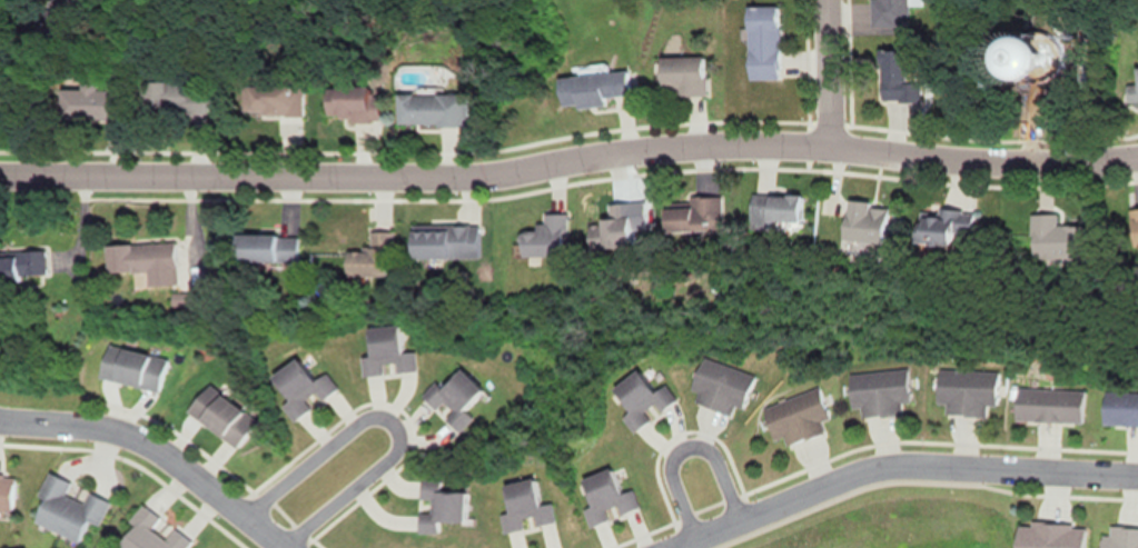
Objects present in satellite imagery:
building: (65, 12)
building: (888, 13)
building: (761, 42)
building: (1012, 56)
water tower: (1039, 64)
road: (829, 73)
building: (679, 76)
building: (893, 78)
building: (1136, 78)
building: (590, 88)
building: (177, 97)
building: (273, 99)
building: (88, 101)
building: (352, 107)
building: (431, 108)
road: (568, 159)
building: (772, 209)
building: (692, 215)
building: (863, 222)
building: (1134, 225)
building: (616, 226)
building: (938, 226)
building: (544, 237)
building: (1056, 238)
building: (443, 242)
building: (264, 249)
building: (369, 256)
building: (142, 260)
building: (21, 263)
building: (385, 350)
building: (132, 367)
building: (299, 387)
building: (719, 387)
building: (964, 390)
building: (877, 391)
building: (454, 398)
building: (640, 398)
building: (1048, 405)
building: (1119, 408)
building: (220, 415)
building: (794, 417)
road: (389, 418)
road: (683, 447)
road: (156, 448)
road: (897, 465)
building: (6, 491)
building: (604, 496)
building: (437, 505)
building: (523, 505)
building: (68, 508)
park: (895, 518)
building: (148, 534)
building: (1049, 535)
building: (1119, 537)

